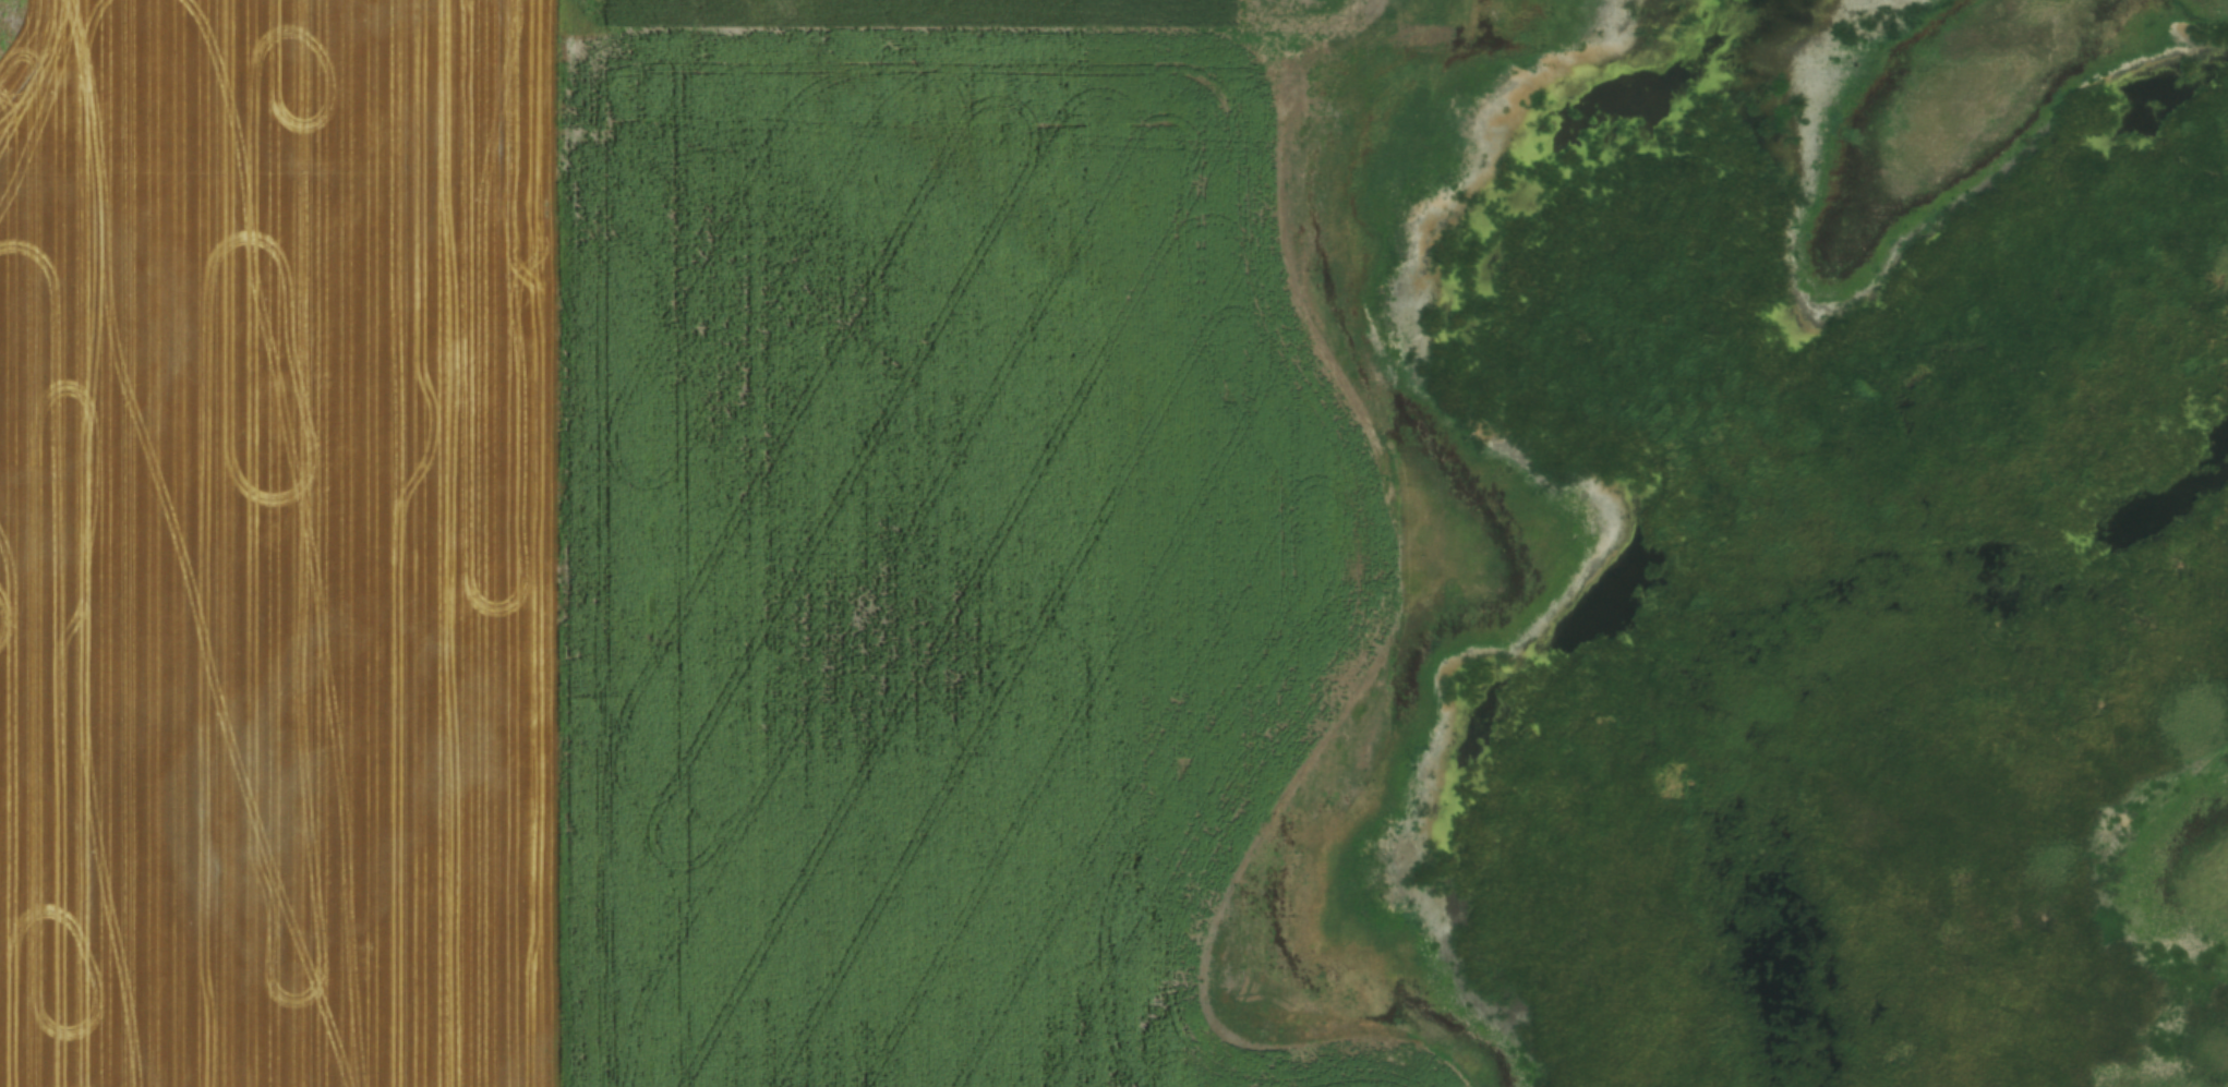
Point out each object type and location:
road: (562, 543)

